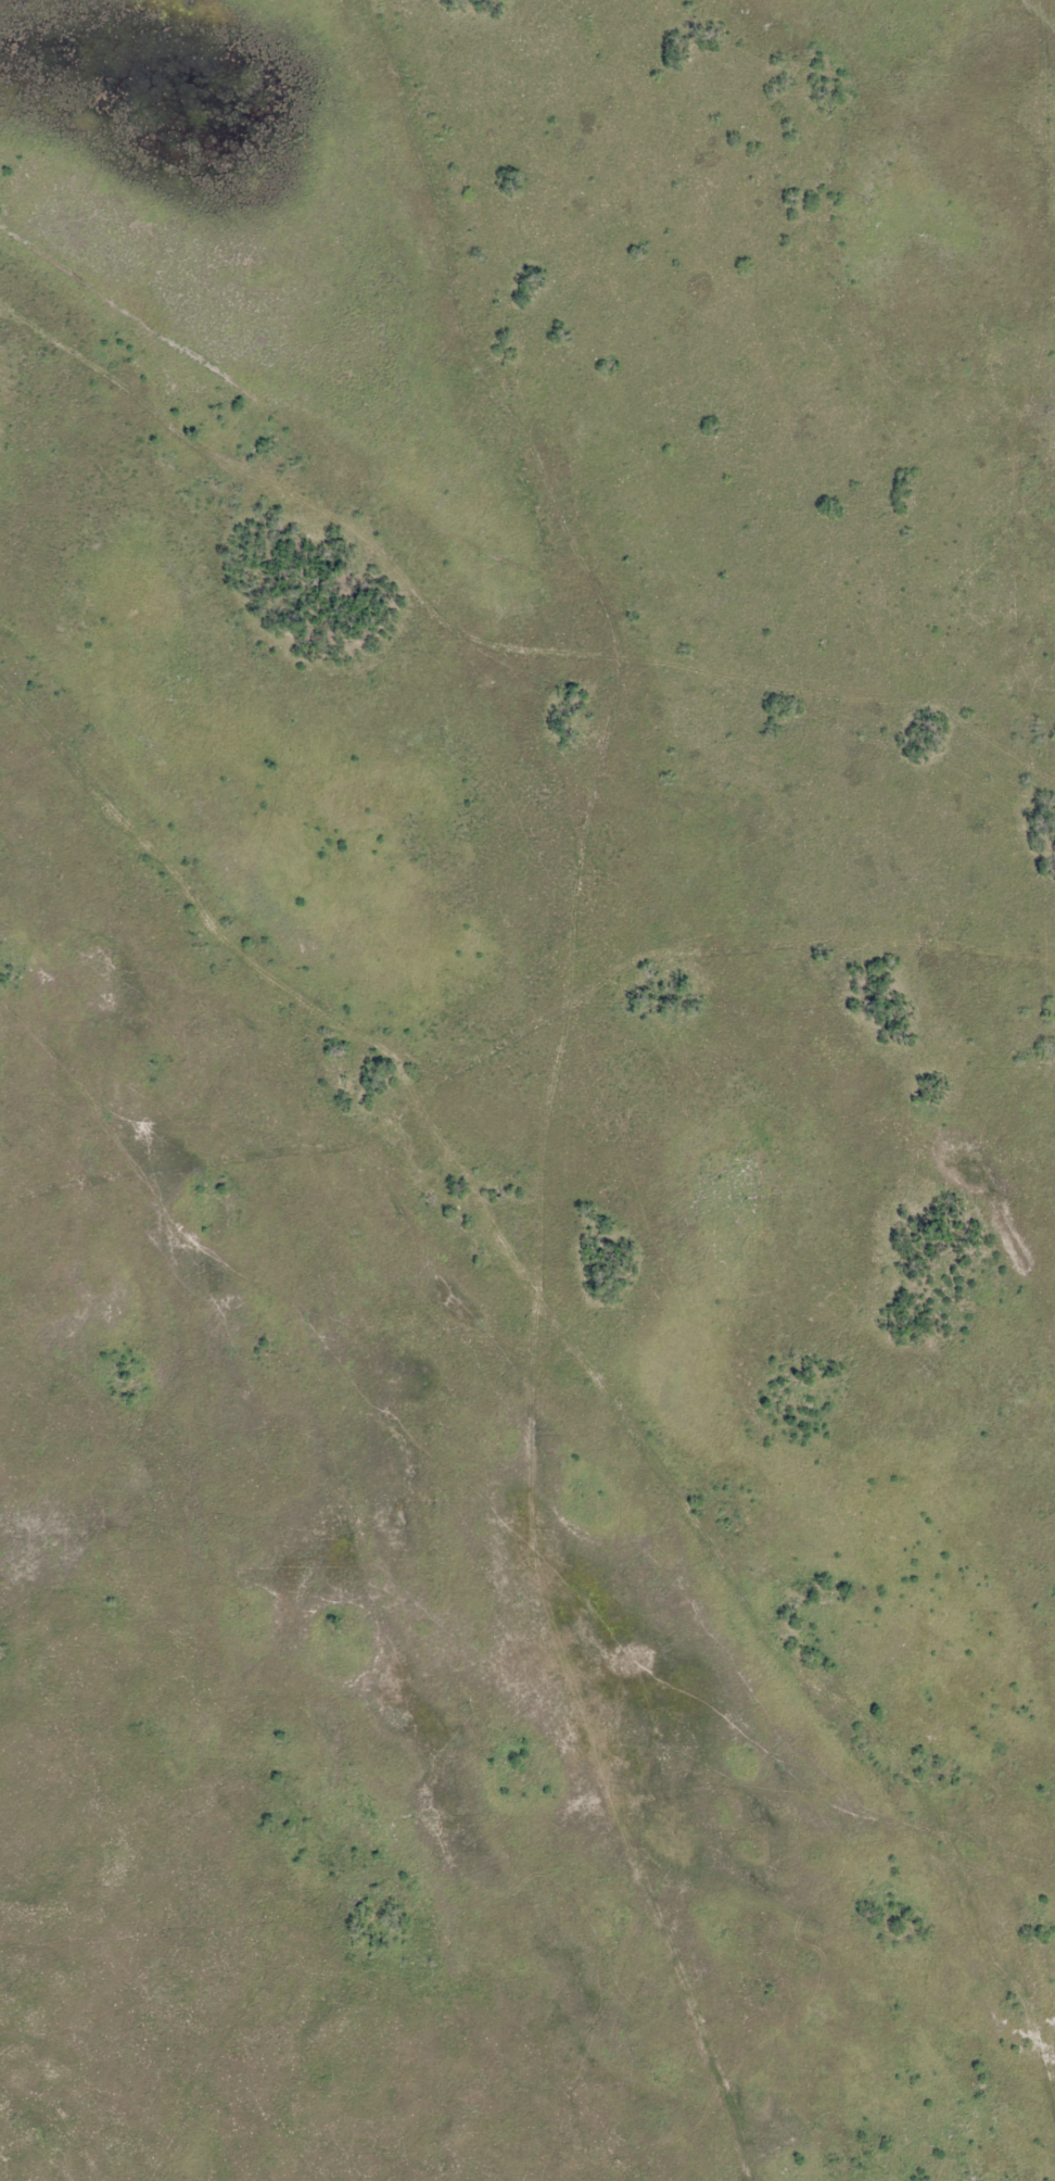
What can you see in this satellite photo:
road: (534, 633)

